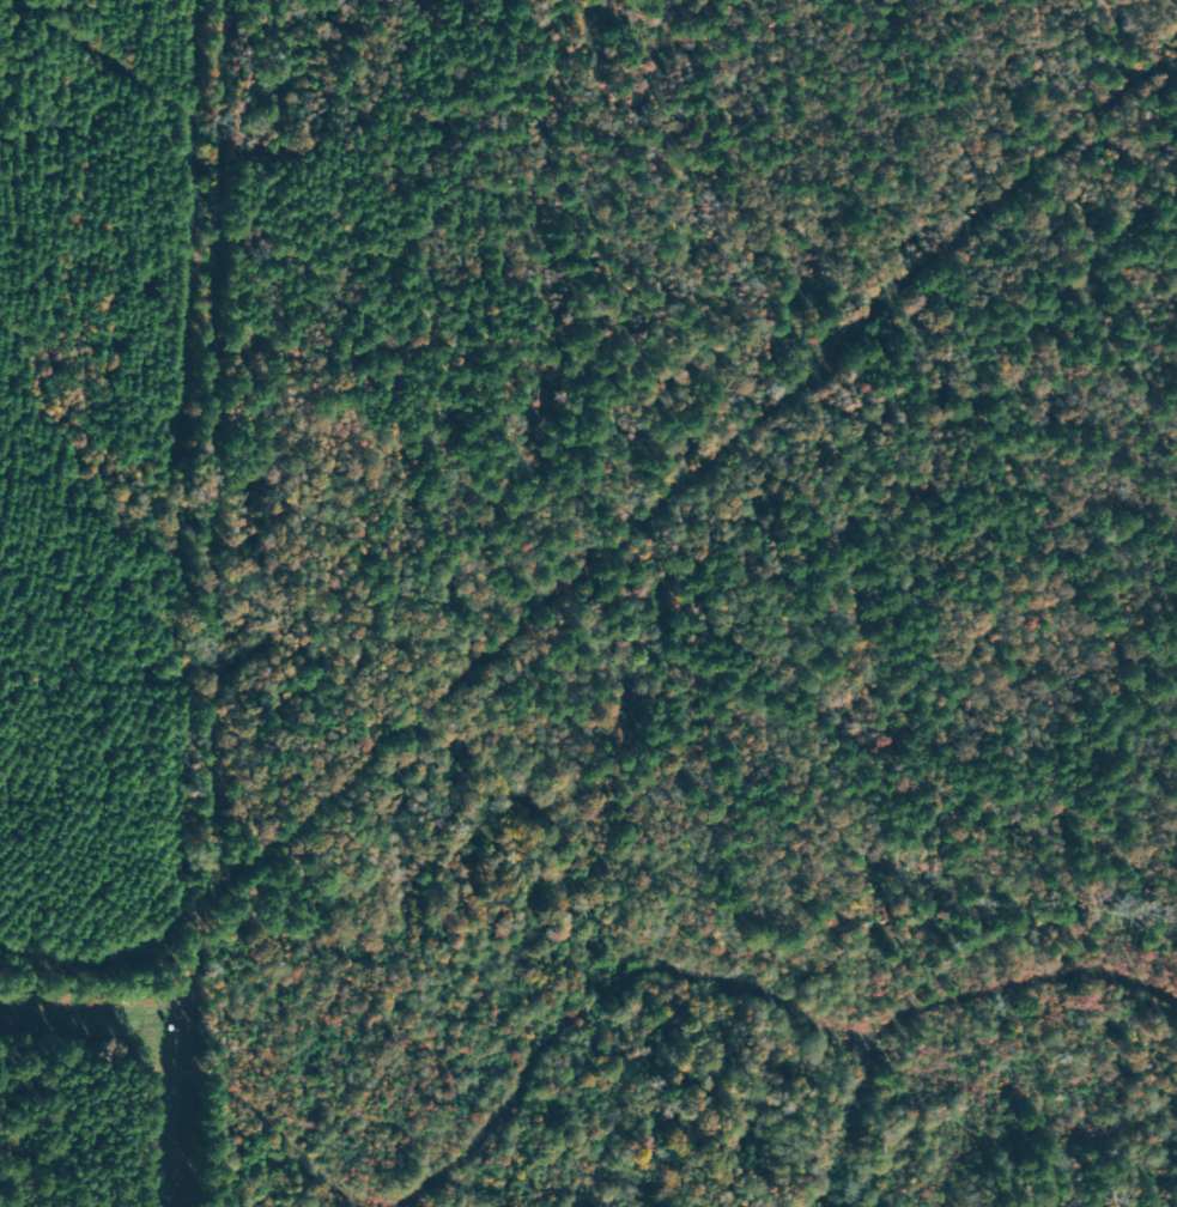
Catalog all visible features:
road: (799, 328)

